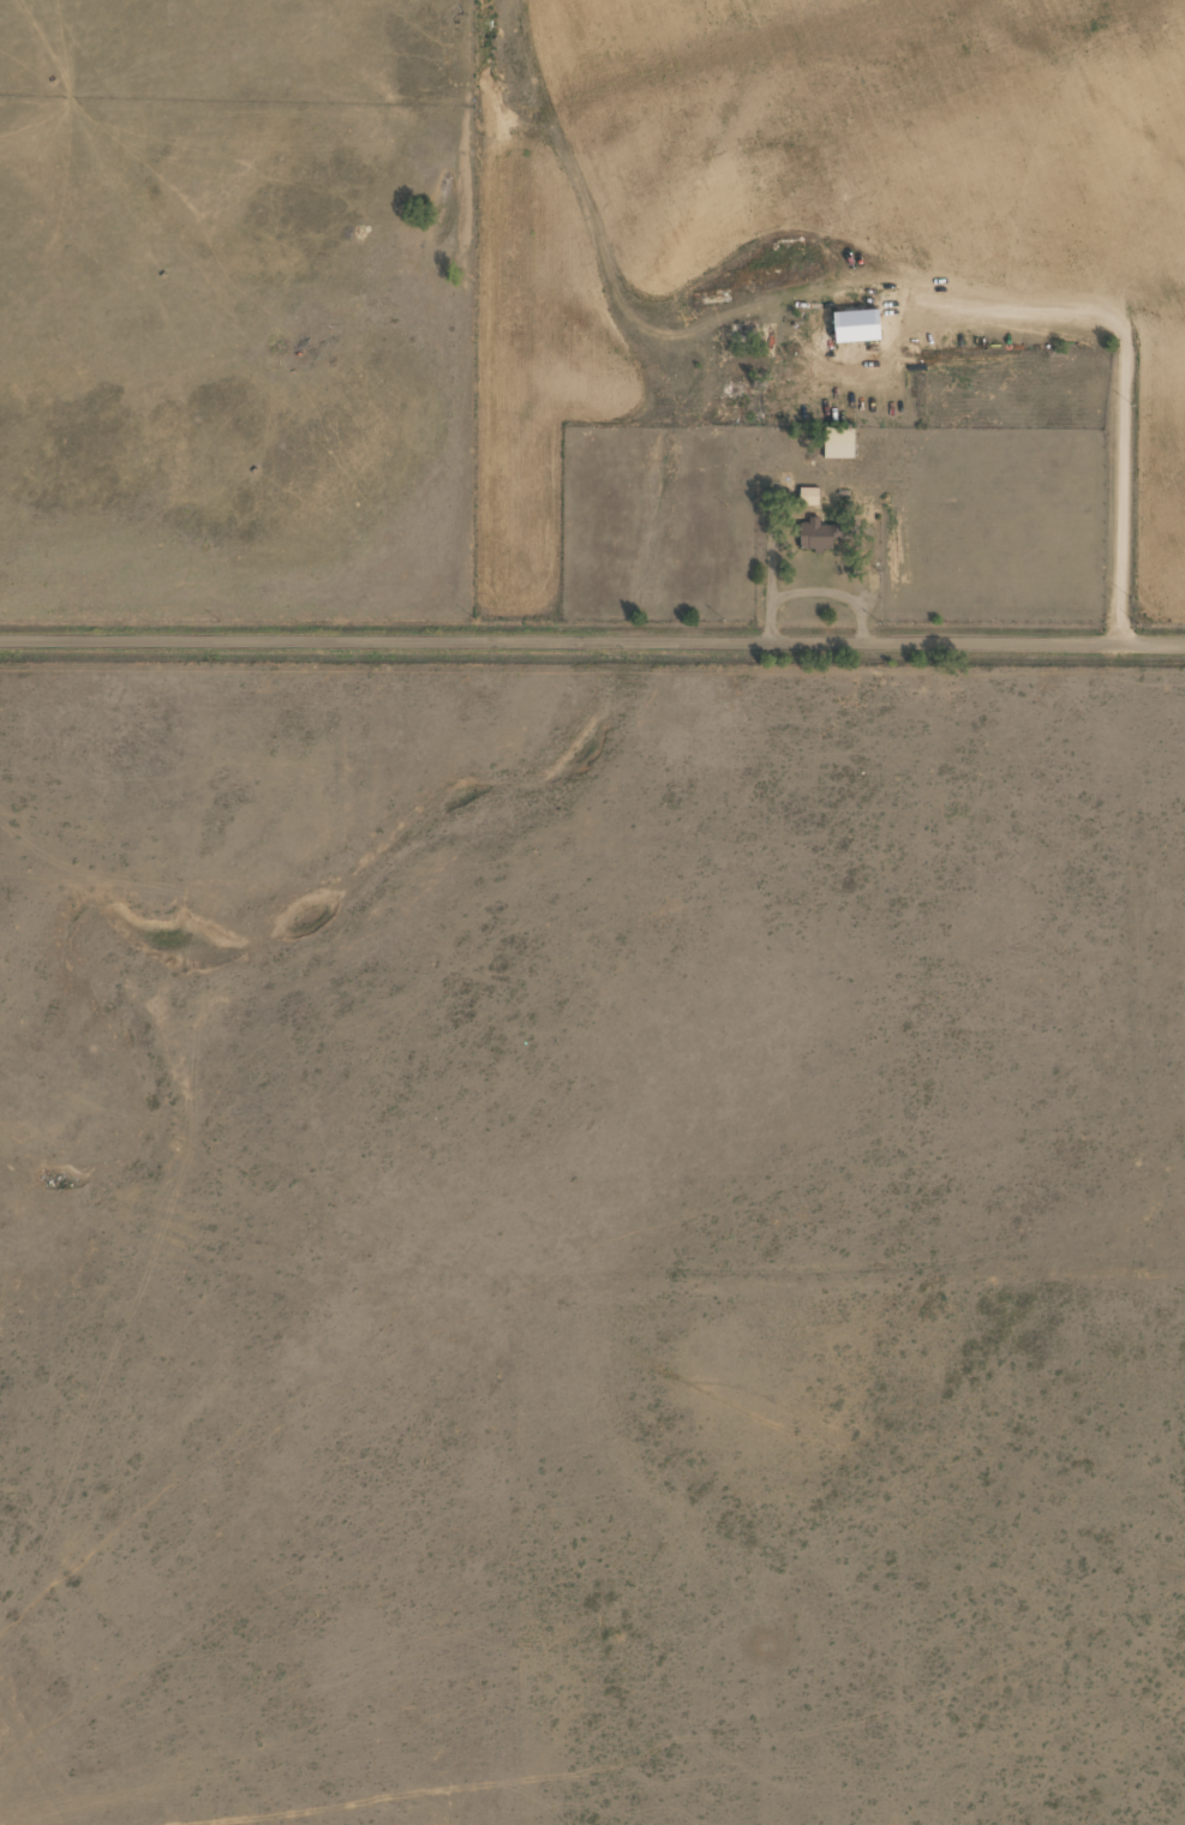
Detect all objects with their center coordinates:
building: (789, 247)
building: (838, 442)
road: (11, 515)
building: (816, 534)
road: (592, 639)

